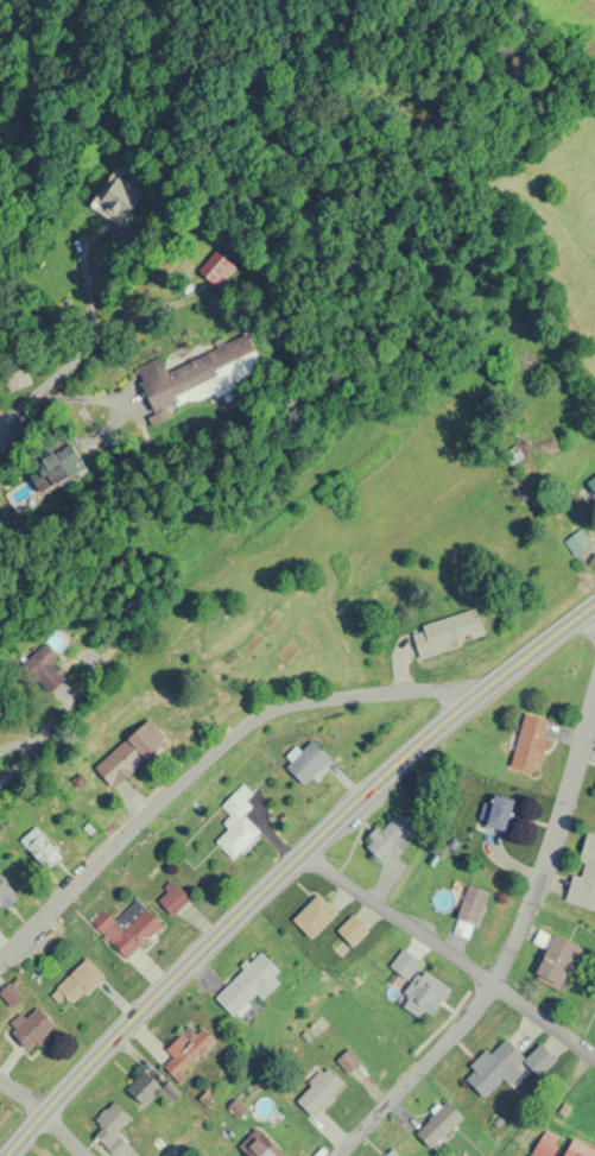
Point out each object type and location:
building: (118, 197)
building: (214, 271)
building: (189, 378)
road: (49, 403)
building: (67, 470)
building: (591, 487)
building: (576, 542)
building: (445, 633)
building: (39, 670)
road: (108, 674)
building: (528, 744)
road: (207, 752)
building: (129, 754)
building: (306, 763)
building: (498, 814)
building: (235, 827)
building: (388, 839)
building: (39, 847)
road: (289, 868)
building: (584, 874)
building: (6, 892)
building: (171, 898)
building: (468, 911)
building: (312, 916)
building: (128, 929)
building: (350, 930)
road: (512, 945)
road: (450, 953)
building: (556, 960)
building: (404, 965)
building: (78, 983)
building: (246, 985)
building: (425, 992)
building: (29, 1028)
building: (188, 1049)
building: (352, 1066)
building: (496, 1069)
building: (144, 1088)
building: (317, 1091)
road: (46, 1116)
building: (437, 1124)
building: (109, 1125)
building: (259, 1146)
building: (577, 1150)
building: (391, 1154)

